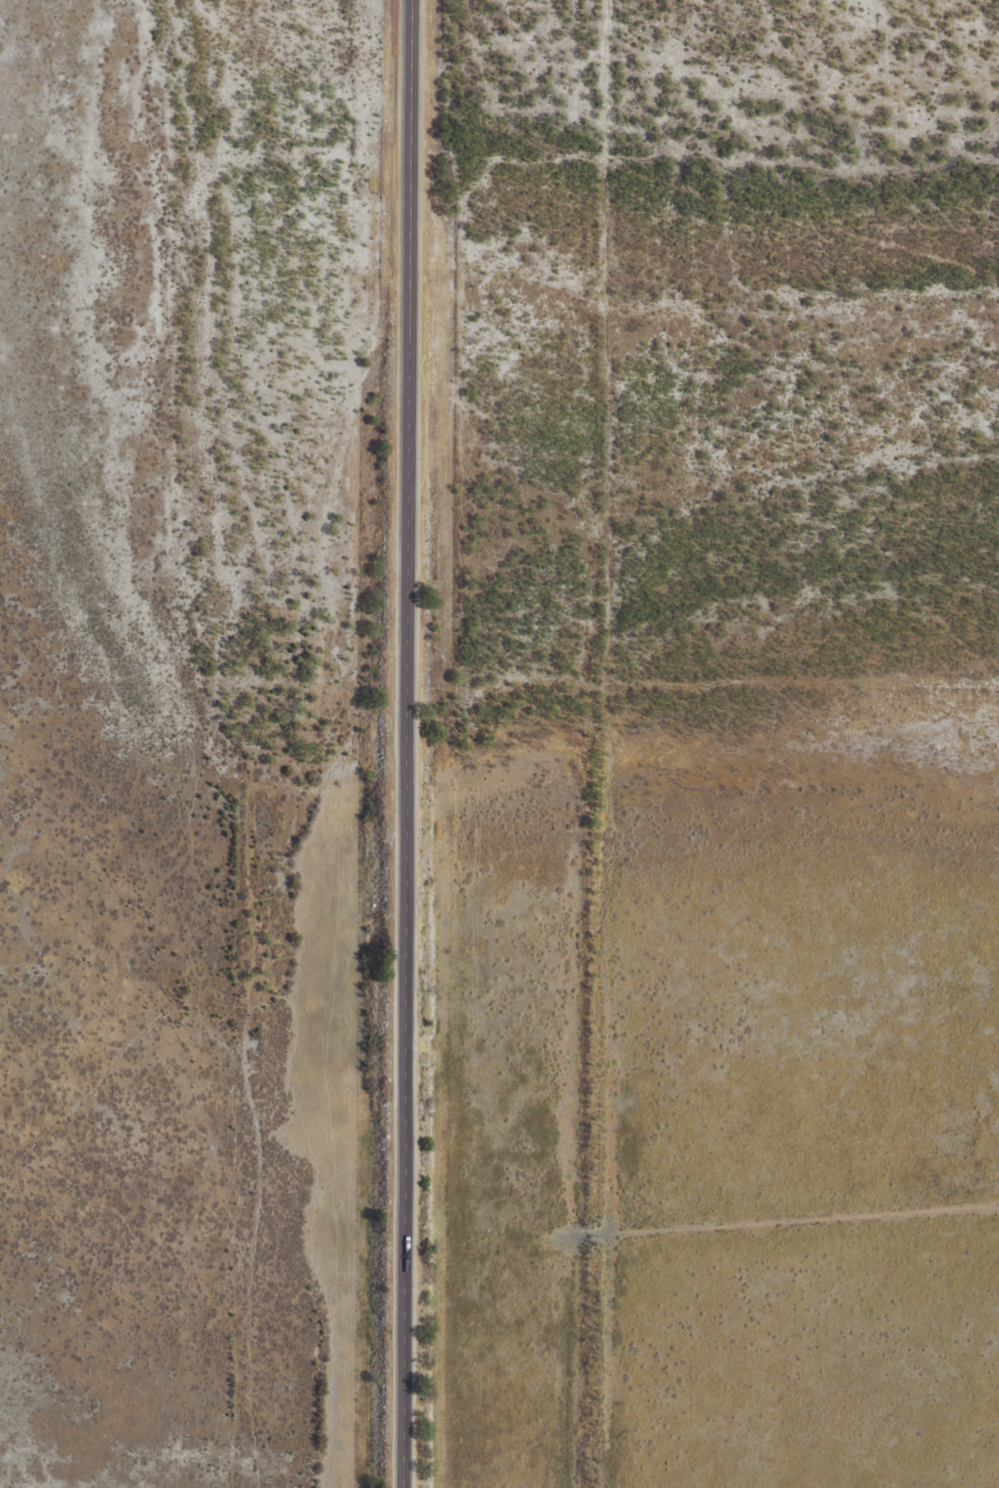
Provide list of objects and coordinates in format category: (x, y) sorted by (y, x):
road: (400, 744)

